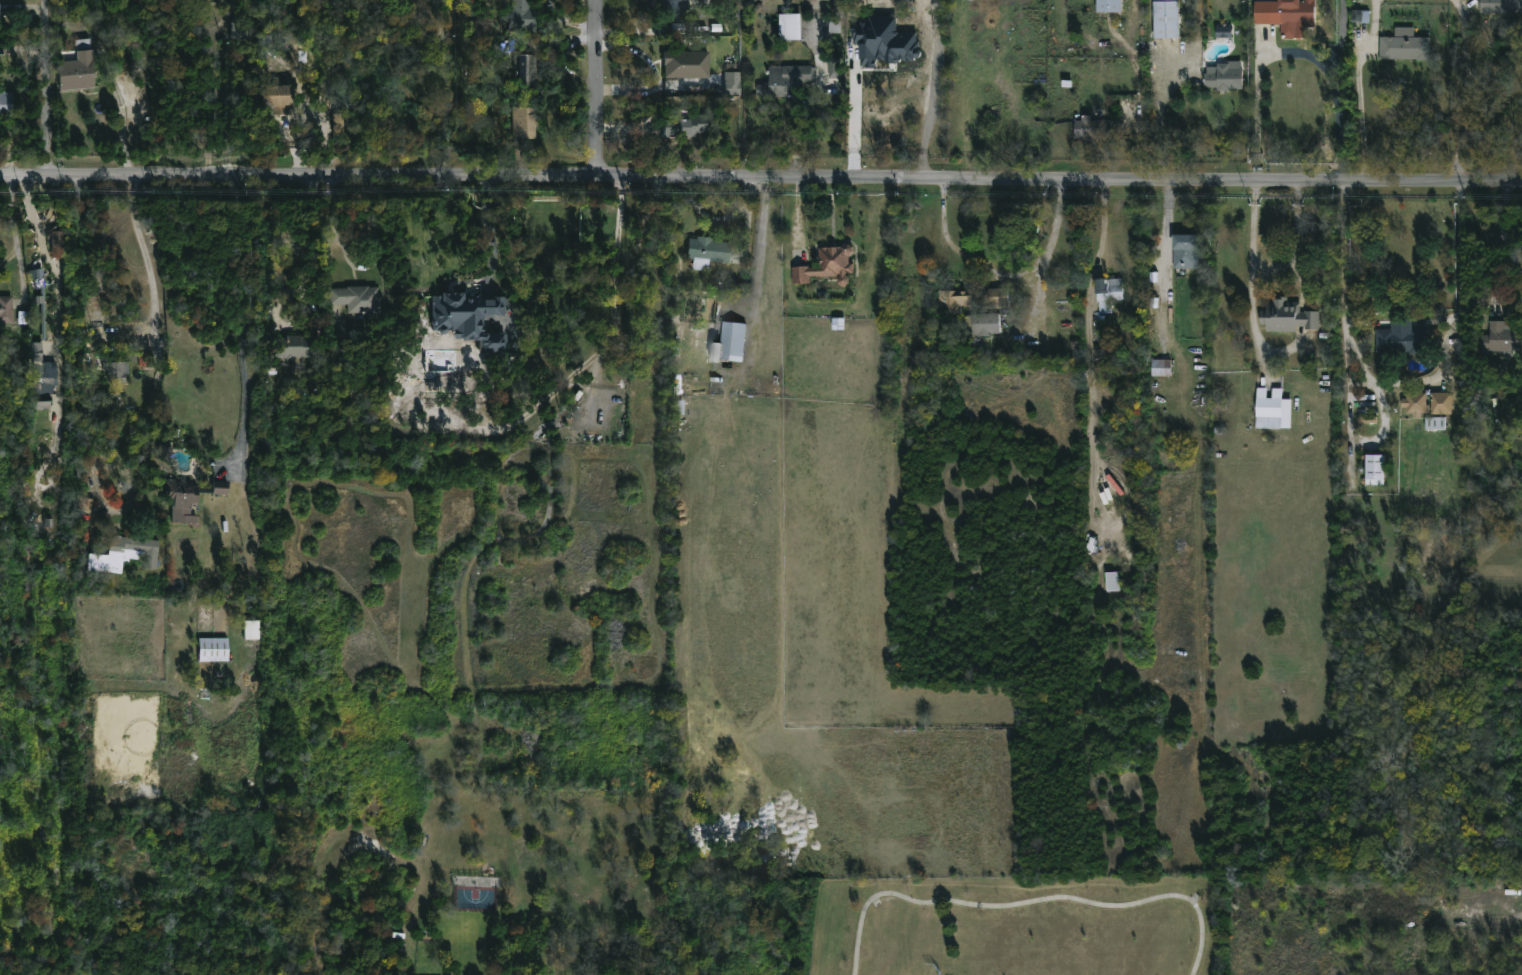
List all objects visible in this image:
building: (816, 0)
building: (209, 1)
building: (703, 1)
building: (1108, 6)
building: (1501, 6)
building: (670, 10)
building: (1, 11)
building: (517, 14)
building: (1286, 15)
building: (1165, 19)
building: (834, 27)
building: (788, 28)
building: (248, 31)
building: (1224, 32)
building: (1404, 46)
building: (681, 63)
building: (80, 66)
building: (869, 66)
building: (834, 68)
building: (523, 72)
building: (1224, 76)
road: (447, 77)
building: (731, 78)
building: (785, 82)
road: (49, 88)
road: (599, 88)
road: (1359, 88)
road: (933, 89)
road: (1467, 90)
road: (1336, 95)
building: (284, 97)
building: (7, 105)
road: (853, 115)
building: (521, 123)
building: (682, 125)
building: (1091, 129)
road: (761, 177)
road: (43, 228)
road: (1102, 231)
road: (1297, 236)
building: (57, 244)
building: (706, 251)
road: (348, 252)
building: (1184, 252)
road: (149, 261)
building: (826, 265)
building: (36, 274)
road: (1252, 274)
road: (1003, 276)
road: (620, 281)
road: (58, 284)
building: (1107, 292)
building: (354, 297)
building: (973, 307)
building: (7, 309)
building: (1286, 316)
building: (469, 318)
road: (242, 320)
building: (1501, 338)
building: (1401, 340)
building: (727, 342)
building: (288, 346)
building: (1160, 367)
building: (117, 371)
building: (45, 379)
road: (1398, 382)
building: (1440, 403)
building: (1415, 404)
building: (1272, 409)
road: (1350, 428)
building: (165, 453)
building: (1374, 469)
building: (220, 487)
building: (186, 501)
building: (85, 504)
building: (127, 553)
building: (1112, 582)
building: (251, 630)
building: (216, 649)
road: (1030, 903)
park: (1012, 928)

